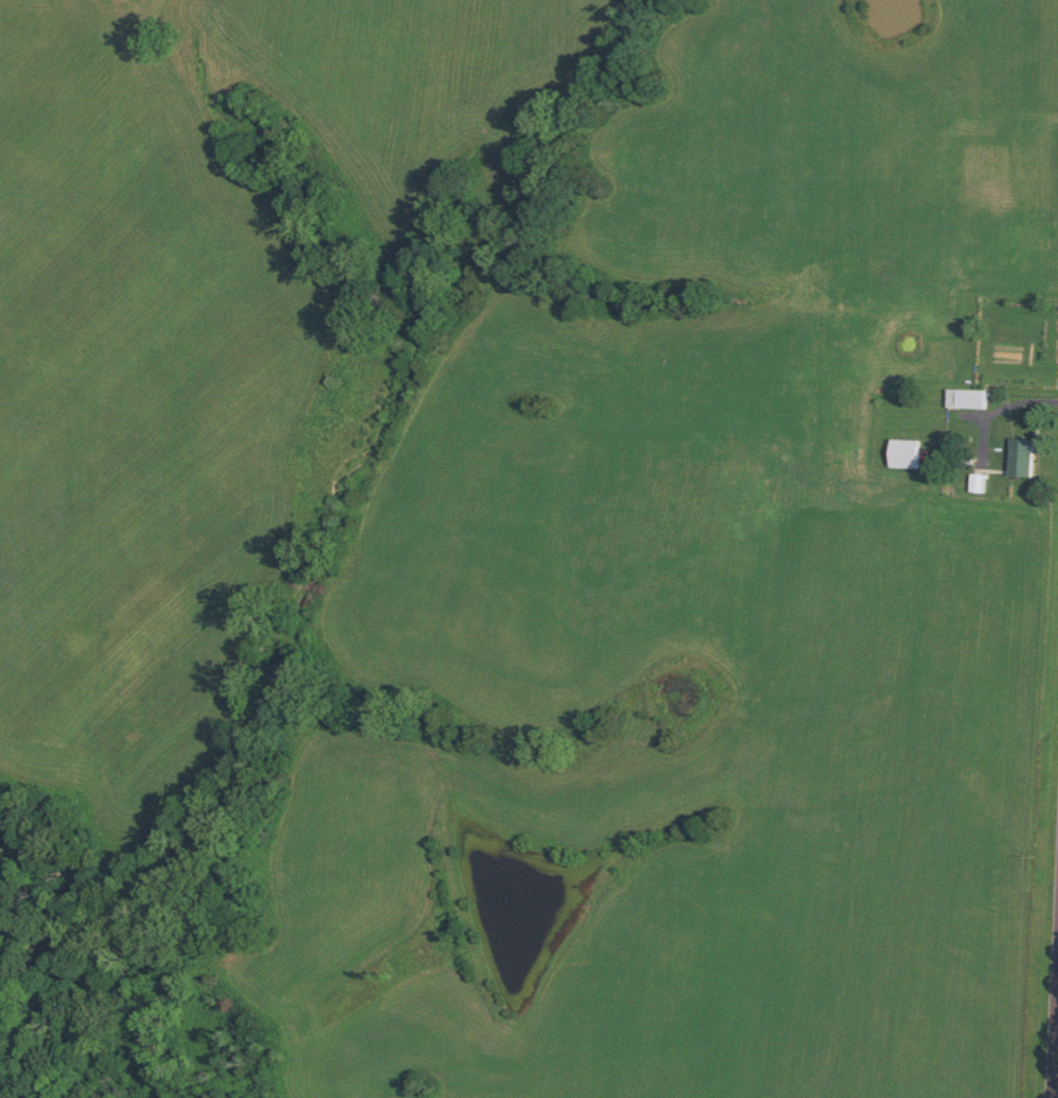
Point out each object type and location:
building: (967, 400)
road: (989, 412)
building: (904, 455)
building: (1021, 460)
road: (1054, 1025)

